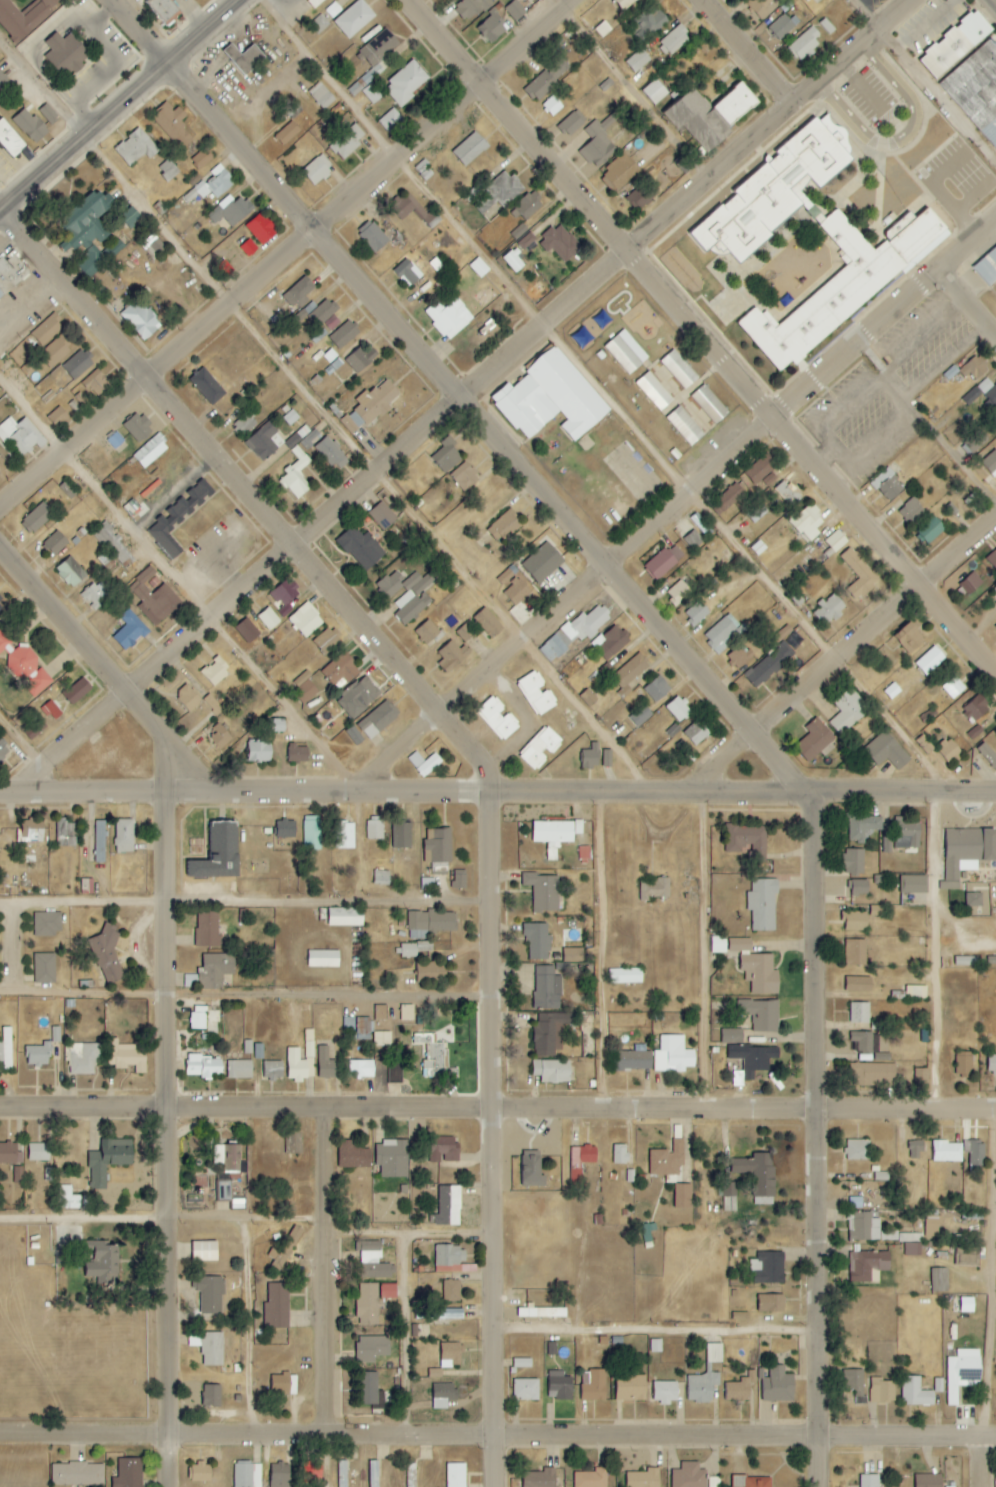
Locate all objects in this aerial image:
building: (806, 0)
road: (995, 0)
building: (314, 2)
building: (623, 3)
building: (759, 5)
building: (470, 8)
building: (163, 9)
building: (515, 10)
building: (24, 17)
building: (354, 18)
building: (786, 20)
building: (648, 22)
building: (319, 24)
building: (492, 28)
building: (674, 41)
building: (955, 44)
building: (804, 45)
building: (379, 47)
road: (742, 51)
building: (66, 54)
building: (244, 58)
building: (638, 60)
road: (921, 78)
building: (546, 80)
building: (3, 83)
building: (406, 83)
road: (626, 88)
building: (976, 90)
building: (654, 92)
building: (321, 95)
building: (552, 106)
road: (124, 110)
building: (710, 113)
building: (390, 120)
building: (571, 124)
building: (30, 126)
building: (171, 126)
building: (287, 133)
road: (903, 137)
building: (10, 140)
building: (348, 141)
building: (598, 142)
building: (135, 148)
building: (470, 149)
building: (201, 159)
building: (317, 169)
building: (168, 170)
building: (620, 172)
building: (211, 185)
building: (774, 191)
building: (494, 192)
building: (639, 198)
building: (528, 206)
building: (230, 211)
building: (402, 212)
building: (88, 229)
building: (261, 229)
building: (519, 231)
building: (372, 236)
building: (526, 241)
building: (560, 243)
road: (286, 252)
building: (514, 261)
building: (986, 266)
building: (479, 267)
building: (408, 273)
building: (10, 275)
building: (845, 284)
building: (300, 292)
road: (965, 298)
building: (323, 311)
building: (449, 318)
building: (140, 320)
building: (47, 330)
building: (344, 335)
road: (699, 336)
building: (625, 352)
building: (55, 353)
building: (330, 356)
building: (360, 358)
building: (77, 365)
building: (974, 368)
building: (679, 369)
building: (95, 382)
building: (210, 382)
road: (480, 385)
building: (654, 391)
building: (983, 393)
building: (550, 398)
building: (373, 403)
building: (709, 404)
road: (328, 413)
building: (291, 417)
road: (927, 418)
building: (57, 419)
building: (245, 424)
building: (685, 426)
building: (138, 428)
building: (18, 436)
building: (303, 439)
building: (265, 442)
building: (150, 451)
building: (332, 453)
building: (447, 456)
building: (990, 463)
building: (762, 471)
building: (295, 475)
building: (464, 477)
building: (888, 484)
building: (789, 493)
building: (731, 496)
road: (681, 508)
building: (910, 509)
road: (714, 512)
building: (754, 514)
building: (382, 516)
building: (37, 518)
building: (174, 520)
building: (808, 522)
building: (504, 526)
building: (930, 530)
building: (836, 541)
building: (55, 543)
building: (113, 544)
building: (360, 548)
building: (666, 559)
building: (992, 559)
building: (542, 563)
building: (859, 574)
building: (67, 576)
road: (182, 580)
building: (969, 584)
building: (513, 588)
building: (678, 593)
building: (407, 594)
building: (285, 596)
building: (154, 599)
building: (994, 599)
building: (1, 605)
building: (829, 610)
building: (697, 613)
building: (268, 619)
building: (305, 620)
building: (437, 622)
building: (488, 623)
building: (995, 626)
building: (130, 631)
building: (247, 631)
building: (465, 632)
building: (574, 633)
building: (428, 634)
building: (720, 635)
building: (908, 638)
building: (3, 642)
building: (326, 642)
building: (610, 642)
road: (847, 653)
road: (696, 656)
building: (452, 657)
building: (735, 660)
building: (930, 661)
building: (20, 663)
road: (105, 665)
building: (768, 665)
building: (341, 669)
building: (215, 672)
building: (628, 675)
building: (38, 684)
building: (304, 688)
building: (953, 688)
building: (657, 689)
building: (76, 691)
building: (536, 693)
building: (361, 694)
building: (187, 698)
building: (212, 705)
building: (52, 709)
building: (678, 709)
building: (976, 709)
building: (848, 712)
building: (640, 716)
building: (497, 719)
building: (377, 721)
road: (536, 722)
building: (275, 726)
building: (695, 733)
building: (975, 733)
building: (995, 733)
road: (24, 737)
building: (219, 737)
building: (814, 741)
building: (927, 741)
building: (540, 748)
building: (949, 750)
building: (4, 751)
building: (886, 751)
building: (258, 752)
building: (298, 754)
building: (988, 754)
road: (480, 755)
building: (590, 757)
building: (607, 758)
building: (424, 764)
road: (31, 780)
road: (497, 791)
building: (862, 827)
building: (375, 828)
building: (286, 829)
building: (30, 830)
building: (907, 832)
building: (66, 833)
building: (311, 834)
building: (554, 834)
building: (344, 835)
building: (401, 835)
building: (123, 836)
building: (888, 837)
building: (746, 840)
building: (98, 842)
building: (438, 846)
building: (966, 852)
building: (218, 854)
building: (854, 861)
building: (381, 878)
building: (459, 879)
building: (913, 884)
building: (858, 887)
building: (654, 888)
building: (543, 891)
road: (248, 905)
building: (763, 905)
building: (345, 917)
building: (431, 921)
building: (854, 921)
building: (47, 924)
building: (207, 929)
building: (537, 941)
building: (718, 945)
road: (609, 949)
building: (408, 950)
road: (711, 950)
road: (20, 951)
building: (855, 952)
building: (107, 954)
building: (573, 955)
building: (322, 960)
building: (965, 961)
building: (756, 967)
building: (44, 968)
building: (216, 969)
building: (429, 972)
building: (625, 976)
building: (192, 981)
building: (858, 984)
building: (547, 988)
building: (916, 992)
building: (898, 995)
road: (248, 998)
building: (380, 1012)
building: (406, 1012)
building: (859, 1012)
building: (761, 1014)
building: (198, 1017)
building: (549, 1034)
building: (732, 1036)
building: (382, 1038)
building: (862, 1041)
building: (5, 1050)
building: (37, 1055)
building: (673, 1055)
building: (125, 1056)
building: (83, 1058)
building: (435, 1059)
building: (753, 1059)
building: (632, 1061)
building: (325, 1063)
building: (991, 1063)
building: (964, 1064)
building: (296, 1065)
building: (202, 1066)
building: (239, 1069)
building: (360, 1069)
building: (273, 1070)
building: (552, 1071)
building: (395, 1073)
building: (873, 1074)
road: (498, 1107)
road: (176, 1140)
building: (295, 1142)
building: (443, 1149)
building: (858, 1149)
building: (915, 1150)
building: (946, 1151)
building: (38, 1152)
building: (10, 1153)
building: (976, 1153)
building: (620, 1154)
building: (354, 1156)
building: (227, 1158)
building: (392, 1158)
building: (108, 1160)
building: (667, 1160)
building: (580, 1163)
building: (532, 1169)
building: (48, 1174)
building: (16, 1175)
building: (763, 1179)
building: (223, 1190)
building: (683, 1196)
building: (67, 1198)
building: (446, 1207)
road: (164, 1219)
building: (932, 1225)
building: (863, 1227)
building: (889, 1236)
road: (414, 1237)
building: (912, 1244)
building: (204, 1251)
building: (450, 1255)
building: (967, 1255)
building: (373, 1261)
building: (867, 1265)
building: (769, 1268)
road: (328, 1272)
building: (939, 1280)
building: (388, 1291)
building: (452, 1291)
building: (210, 1294)
building: (771, 1303)
building: (368, 1304)
building: (967, 1305)
building: (277, 1307)
road: (990, 1309)
building: (537, 1312)
road: (248, 1329)
road: (406, 1336)
building: (208, 1347)
building: (373, 1348)
building: (450, 1355)
building: (522, 1363)
building: (962, 1372)
building: (435, 1373)
building: (705, 1377)
building: (382, 1383)
building: (283, 1384)
building: (855, 1384)
building: (593, 1385)
building: (778, 1385)
building: (559, 1386)
building: (630, 1388)
building: (740, 1388)
building: (525, 1389)
building: (371, 1391)
building: (881, 1391)
building: (665, 1392)
building: (915, 1392)
building: (210, 1395)
building: (443, 1395)
road: (226, 1414)
road: (497, 1438)
road: (981, 1461)
building: (312, 1472)
building: (128, 1473)
building: (199, 1473)
building: (77, 1474)
building: (342, 1474)
building: (373, 1474)
building: (247, 1475)
building: (279, 1475)
building: (456, 1475)
building: (689, 1476)
building: (540, 1478)
building: (591, 1478)
building: (643, 1478)
building: (928, 1480)
building: (869, 1481)
building: (758, 1482)
building: (410, 1484)

